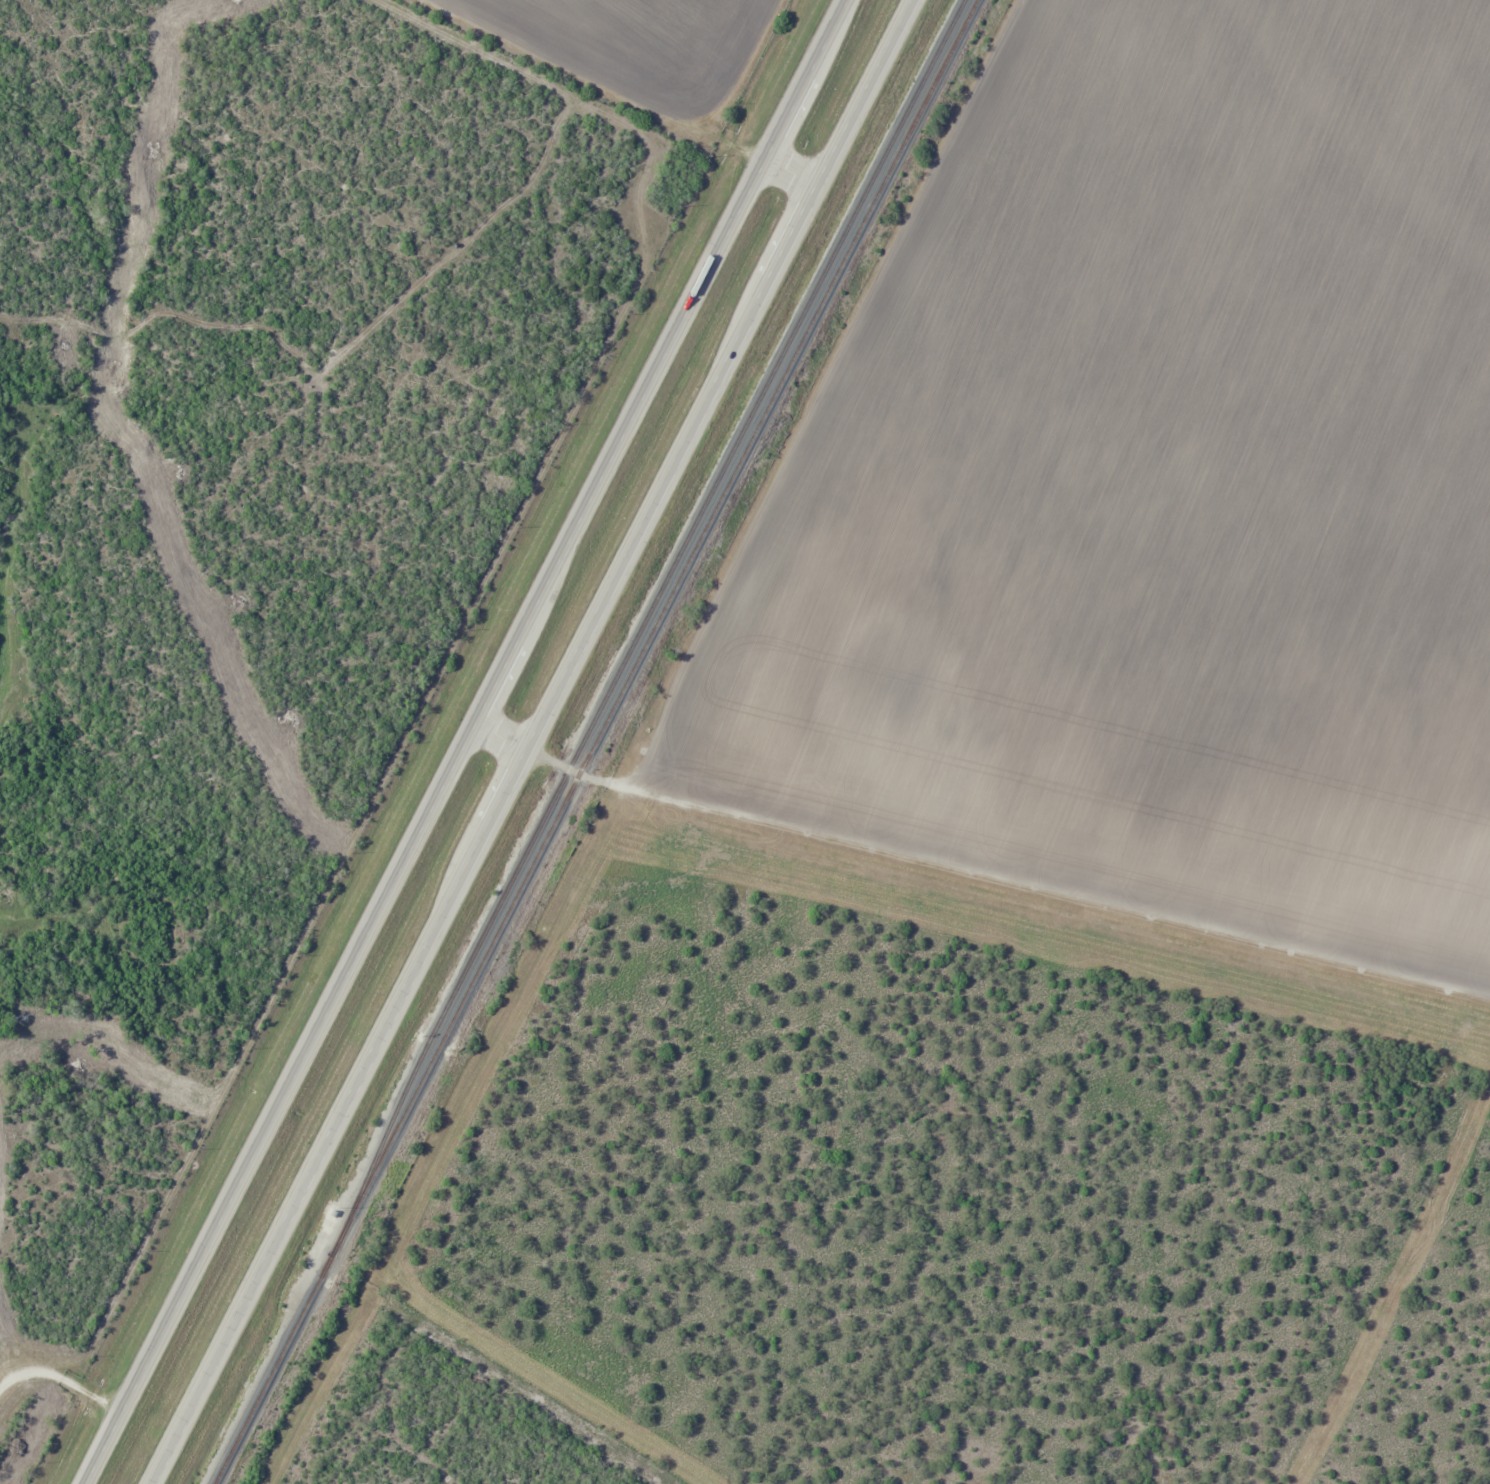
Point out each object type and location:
road: (623, 94)
road: (535, 739)
railway: (595, 739)
road: (468, 744)
road: (979, 881)

